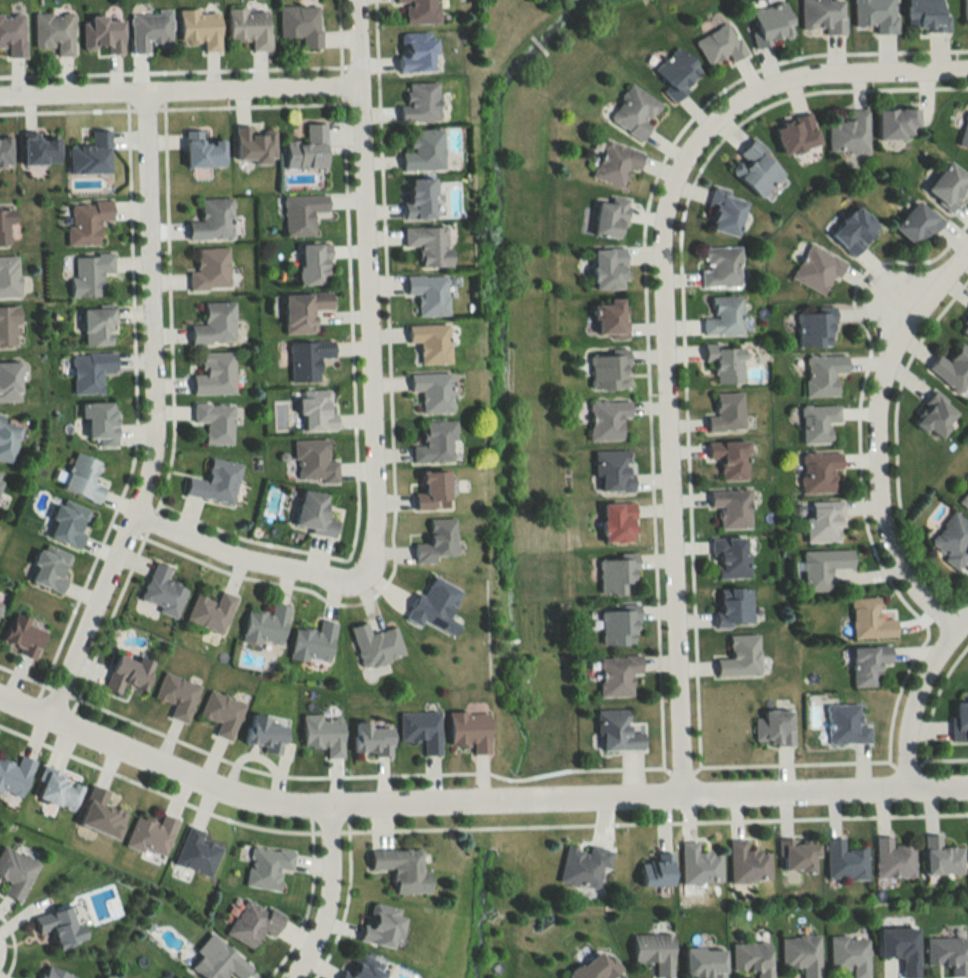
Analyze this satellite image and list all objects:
building: (964, 8)
building: (420, 11)
building: (875, 15)
building: (925, 15)
building: (821, 16)
building: (300, 24)
building: (770, 24)
building: (249, 26)
building: (200, 27)
building: (149, 30)
building: (54, 31)
building: (12, 34)
building: (102, 34)
building: (718, 44)
building: (417, 50)
building: (676, 72)
road: (825, 82)
road: (182, 85)
building: (420, 101)
building: (633, 111)
building: (896, 122)
building: (964, 131)
building: (796, 133)
building: (849, 133)
building: (254, 145)
building: (306, 147)
building: (5, 149)
building: (40, 149)
building: (202, 150)
building: (424, 150)
building: (90, 154)
building: (615, 163)
building: (756, 168)
building: (947, 184)
building: (419, 197)
building: (724, 211)
building: (301, 212)
building: (609, 217)
building: (212, 219)
building: (86, 221)
building: (916, 223)
building: (4, 225)
building: (854, 230)
building: (429, 244)
building: (313, 262)
building: (720, 267)
building: (608, 268)
building: (210, 269)
building: (816, 269)
building: (89, 273)
building: (9, 275)
road: (366, 284)
building: (428, 293)
building: (303, 310)
building: (723, 316)
building: (610, 317)
building: (215, 323)
building: (964, 323)
building: (97, 325)
building: (8, 327)
building: (813, 329)
building: (430, 341)
building: (307, 359)
building: (724, 361)
building: (953, 368)
building: (91, 371)
building: (609, 371)
building: (214, 373)
building: (822, 373)
building: (9, 380)
building: (433, 390)
building: (315, 410)
building: (726, 412)
road: (163, 414)
building: (935, 415)
building: (606, 419)
building: (100, 421)
building: (214, 421)
building: (817, 422)
road: (877, 437)
building: (7, 440)
building: (435, 442)
building: (729, 458)
building: (313, 462)
road: (664, 462)
building: (612, 471)
building: (819, 472)
building: (1, 475)
building: (83, 478)
building: (215, 483)
building: (431, 489)
building: (964, 499)
building: (730, 507)
building: (313, 513)
building: (823, 521)
building: (617, 522)
building: (68, 523)
building: (951, 540)
building: (438, 541)
road: (253, 555)
building: (728, 557)
building: (50, 568)
building: (822, 568)
building: (616, 576)
building: (161, 591)
building: (0, 601)
building: (434, 606)
building: (731, 606)
building: (211, 611)
building: (869, 620)
building: (266, 625)
building: (617, 627)
building: (22, 636)
building: (313, 642)
building: (375, 644)
building: (738, 656)
building: (868, 664)
building: (128, 673)
building: (616, 675)
building: (177, 695)
road: (919, 695)
building: (221, 713)
building: (959, 719)
building: (844, 724)
building: (773, 727)
building: (421, 729)
building: (469, 730)
building: (616, 731)
building: (265, 732)
building: (324, 733)
building: (371, 738)
building: (14, 775)
building: (56, 789)
road: (474, 804)
building: (101, 814)
building: (151, 835)
building: (196, 851)
building: (797, 856)
building: (941, 857)
building: (893, 859)
building: (844, 861)
building: (747, 864)
building: (583, 865)
building: (698, 865)
building: (266, 867)
building: (401, 869)
building: (655, 870)
building: (15, 872)
road: (330, 898)
building: (252, 922)
building: (381, 926)
building: (59, 927)
building: (900, 948)
building: (654, 953)
building: (801, 954)
building: (946, 954)
building: (849, 955)
building: (752, 958)
building: (220, 963)
building: (703, 963)
building: (595, 966)
building: (363, 967)
building: (54, 973)
building: (188, 977)

